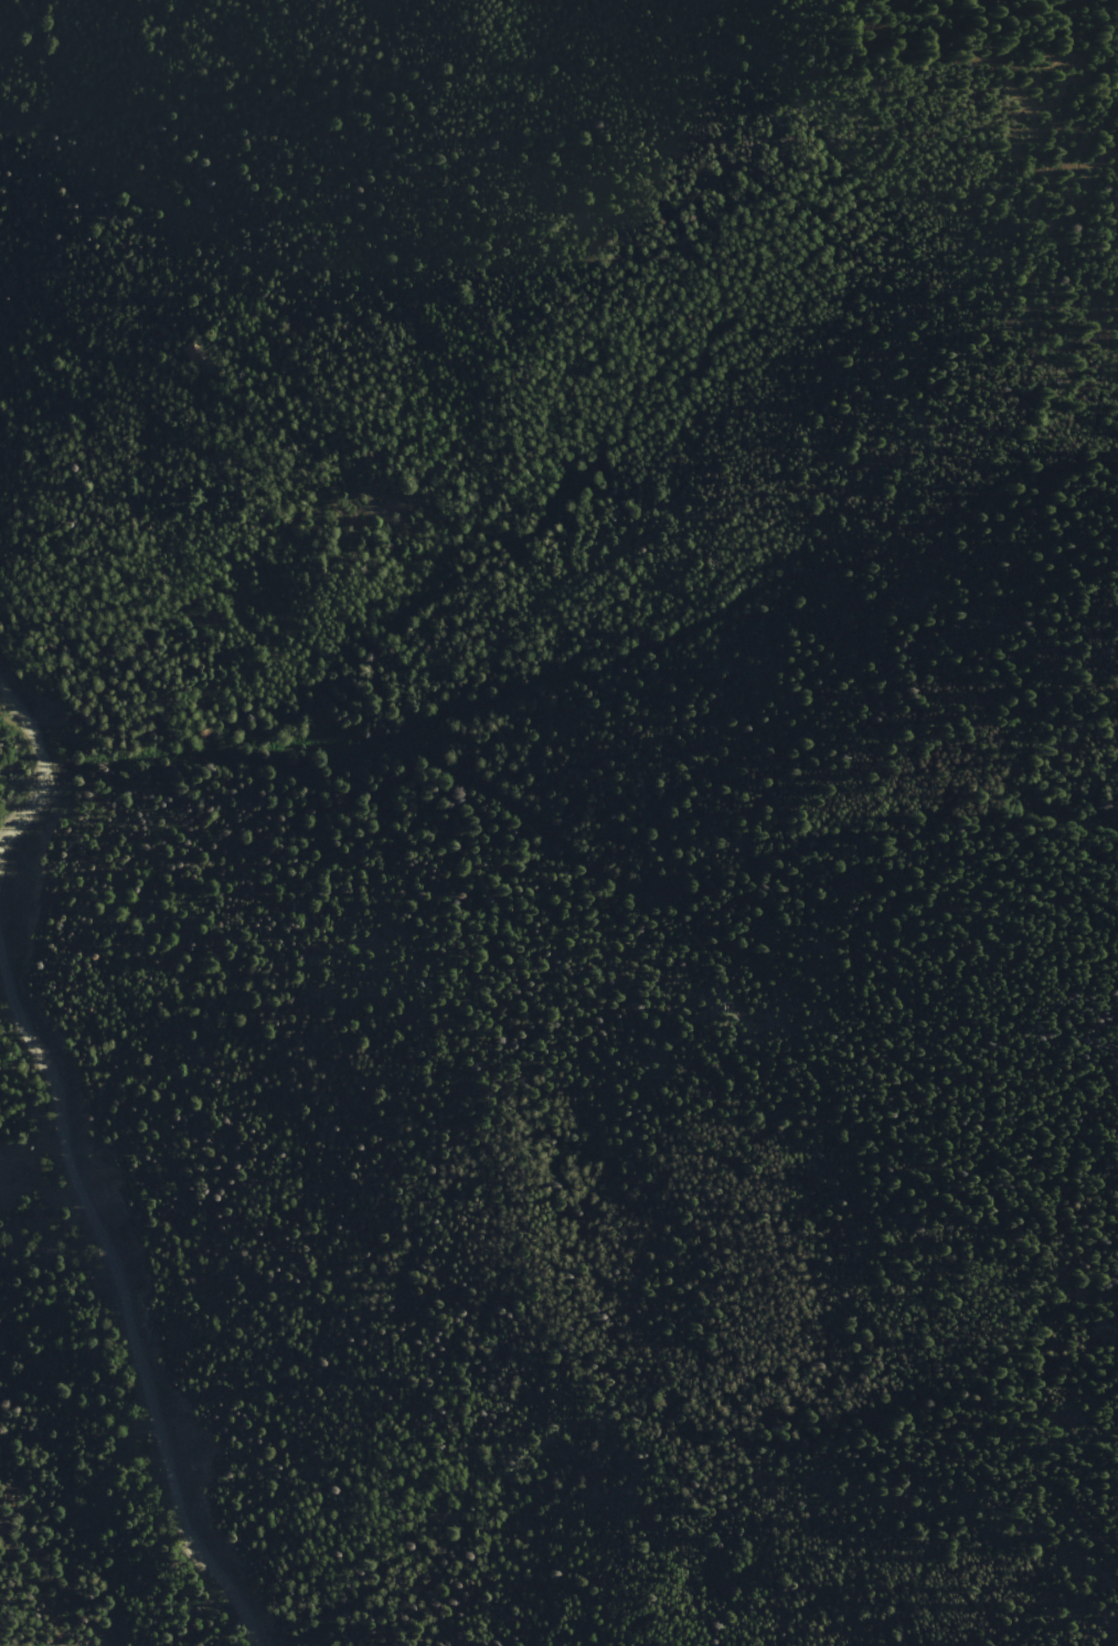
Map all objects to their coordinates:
road: (1071, 176)
road: (1045, 187)
road: (45, 764)
road: (120, 1303)
building: (0, 1362)
building: (0, 1367)

